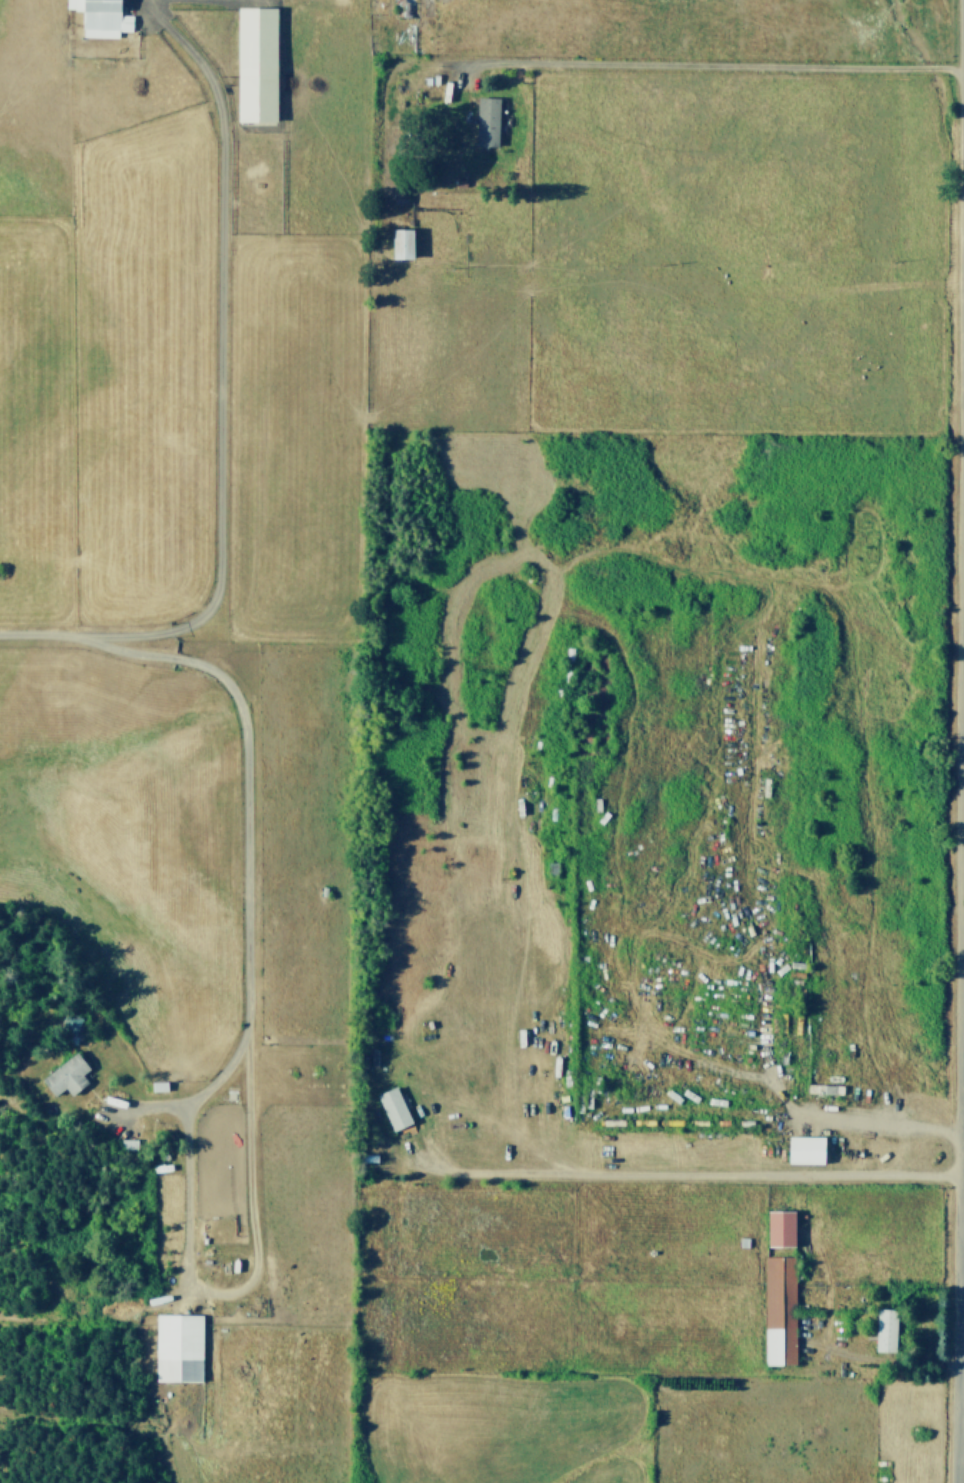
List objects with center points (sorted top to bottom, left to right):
building: (101, 18)
building: (255, 64)
road: (690, 66)
building: (487, 122)
building: (400, 244)
road: (220, 354)
road: (44, 635)
crop: (482, 741)
road: (960, 741)
building: (70, 1022)
road: (251, 1072)
building: (66, 1075)
building: (393, 1107)
road: (856, 1118)
building: (804, 1149)
road: (681, 1171)
building: (779, 1227)
building: (779, 1310)
building: (885, 1329)
building: (177, 1347)

